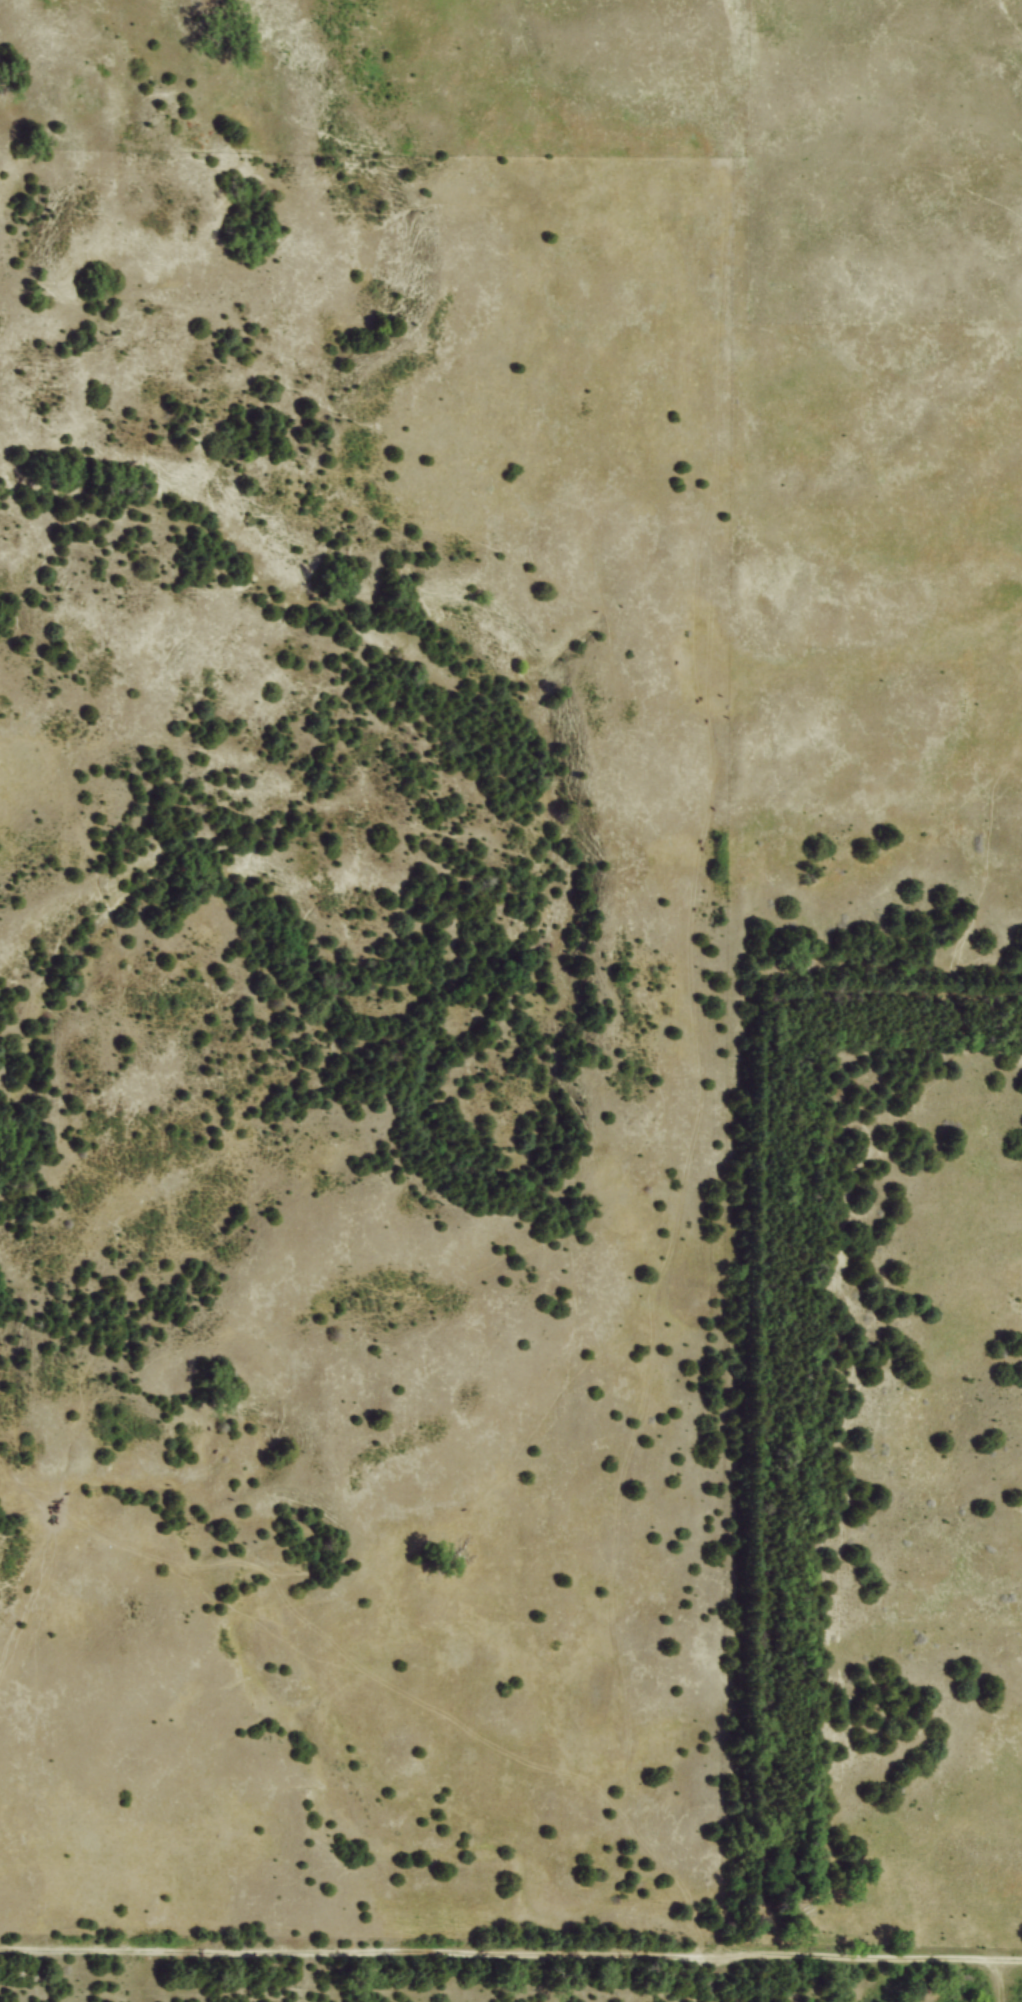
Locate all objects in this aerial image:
road: (510, 1958)

